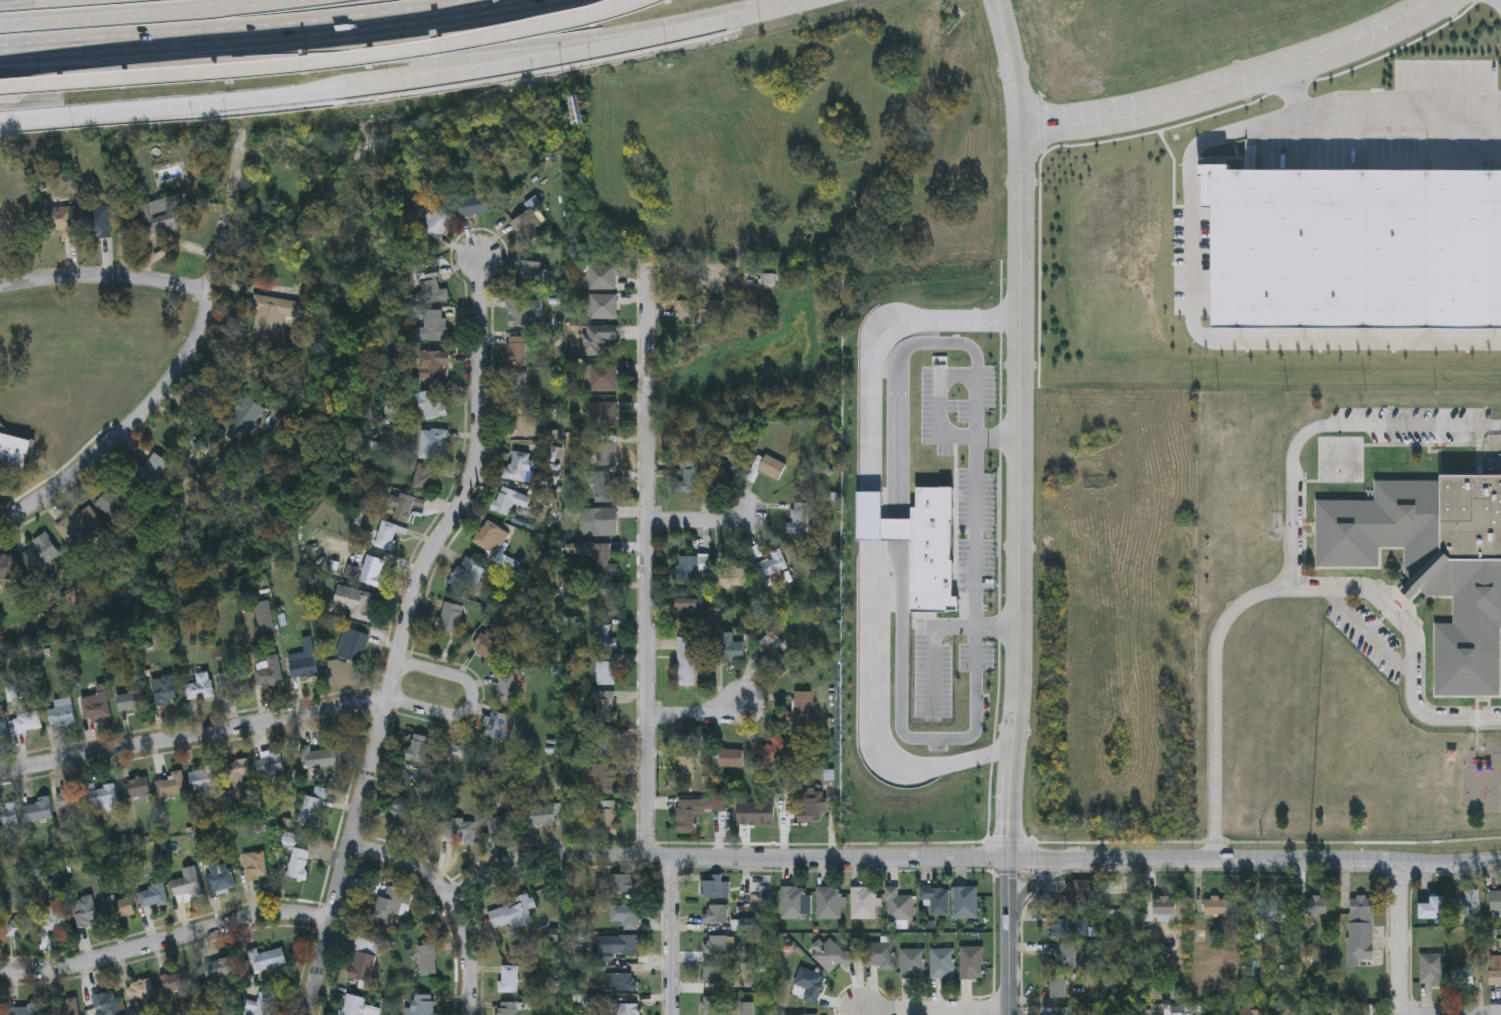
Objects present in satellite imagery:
road: (152, 15)
road: (688, 27)
road: (261, 32)
road: (531, 49)
road: (281, 60)
road: (37, 62)
road: (324, 62)
road: (1234, 83)
road: (288, 90)
road: (1293, 91)
road: (1399, 115)
road: (229, 200)
building: (473, 205)
building: (157, 216)
building: (60, 220)
building: (99, 222)
building: (437, 222)
building: (527, 225)
building: (759, 274)
building: (531, 275)
building: (602, 278)
road: (107, 280)
building: (431, 288)
building: (602, 307)
building: (526, 312)
building: (273, 317)
building: (431, 327)
road: (1202, 337)
building: (597, 339)
road: (877, 343)
building: (515, 350)
building: (433, 366)
building: (600, 377)
building: (516, 386)
road: (937, 398)
building: (432, 404)
building: (602, 414)
building: (241, 420)
building: (519, 423)
road: (1018, 428)
road: (1324, 431)
road: (126, 433)
building: (432, 445)
building: (728, 449)
building: (606, 451)
building: (14, 454)
building: (771, 468)
building: (152, 471)
building: (693, 477)
building: (423, 478)
building: (603, 487)
building: (115, 500)
building: (508, 501)
building: (404, 507)
building: (799, 518)
road: (869, 519)
road: (697, 521)
building: (599, 524)
building: (80, 525)
building: (386, 537)
building: (490, 538)
building: (39, 552)
road: (976, 552)
building: (603, 561)
road: (646, 561)
building: (770, 565)
building: (1434, 565)
building: (7, 567)
building: (693, 568)
building: (372, 571)
building: (467, 576)
road: (898, 580)
building: (606, 601)
building: (354, 603)
building: (686, 615)
building: (451, 617)
building: (265, 618)
road: (402, 634)
building: (603, 637)
road: (1411, 642)
building: (769, 644)
road: (929, 644)
building: (488, 645)
building: (353, 646)
building: (729, 648)
building: (303, 661)
building: (686, 661)
building: (787, 663)
building: (606, 670)
building: (233, 681)
building: (200, 687)
building: (506, 689)
building: (164, 691)
building: (133, 702)
road: (471, 703)
road: (1215, 703)
building: (95, 707)
building: (799, 707)
building: (604, 711)
building: (61, 713)
road: (695, 715)
road: (875, 719)
building: (2, 722)
building: (27, 723)
building: (498, 727)
road: (194, 736)
building: (606, 746)
building: (418, 749)
building: (772, 751)
building: (318, 758)
building: (730, 759)
building: (270, 764)
building: (684, 767)
building: (239, 774)
building: (603, 780)
building: (203, 781)
building: (171, 786)
building: (136, 789)
building: (103, 797)
building: (786, 802)
building: (69, 804)
building: (811, 806)
building: (401, 811)
building: (310, 812)
building: (687, 813)
building: (542, 816)
building: (8, 817)
building: (607, 817)
building: (501, 825)
building: (461, 830)
road: (967, 859)
building: (297, 865)
building: (254, 868)
building: (219, 879)
building: (624, 885)
road: (1033, 885)
building: (715, 886)
building: (185, 887)
building: (1076, 894)
building: (152, 897)
building: (936, 899)
building: (1495, 900)
road: (446, 901)
building: (793, 902)
building: (965, 902)
building: (829, 903)
building: (864, 903)
building: (1468, 904)
building: (899, 905)
building: (1314, 905)
building: (1164, 906)
building: (1214, 906)
building: (389, 907)
building: (1271, 907)
building: (1433, 908)
building: (118, 911)
building: (85, 912)
building: (717, 912)
building: (511, 915)
building: (624, 917)
building: (52, 921)
building: (1070, 925)
building: (19, 928)
building: (1359, 929)
road: (670, 937)
road: (1009, 937)
road: (1401, 938)
road: (164, 942)
building: (720, 942)
building: (626, 945)
building: (832, 955)
building: (880, 955)
building: (1061, 956)
building: (269, 961)
building: (427, 961)
building: (362, 962)
building: (972, 962)
building: (913, 963)
building: (943, 963)
building: (1431, 969)
building: (218, 970)
building: (712, 973)
building: (1495, 977)
building: (1462, 978)
building: (508, 980)
building: (176, 983)
building: (810, 983)
building: (624, 984)
building: (1056, 986)
building: (139, 992)
building: (712, 1002)
building: (591, 1003)
building: (353, 1004)
building: (105, 1005)
building: (259, 1005)
building: (424, 1005)
building: (65, 1008)
building: (747, 1008)
building: (508, 1009)
building: (0, 1010)
building: (623, 1010)
building: (23, 1011)
road: (935, 1012)
building: (1061, 1012)

